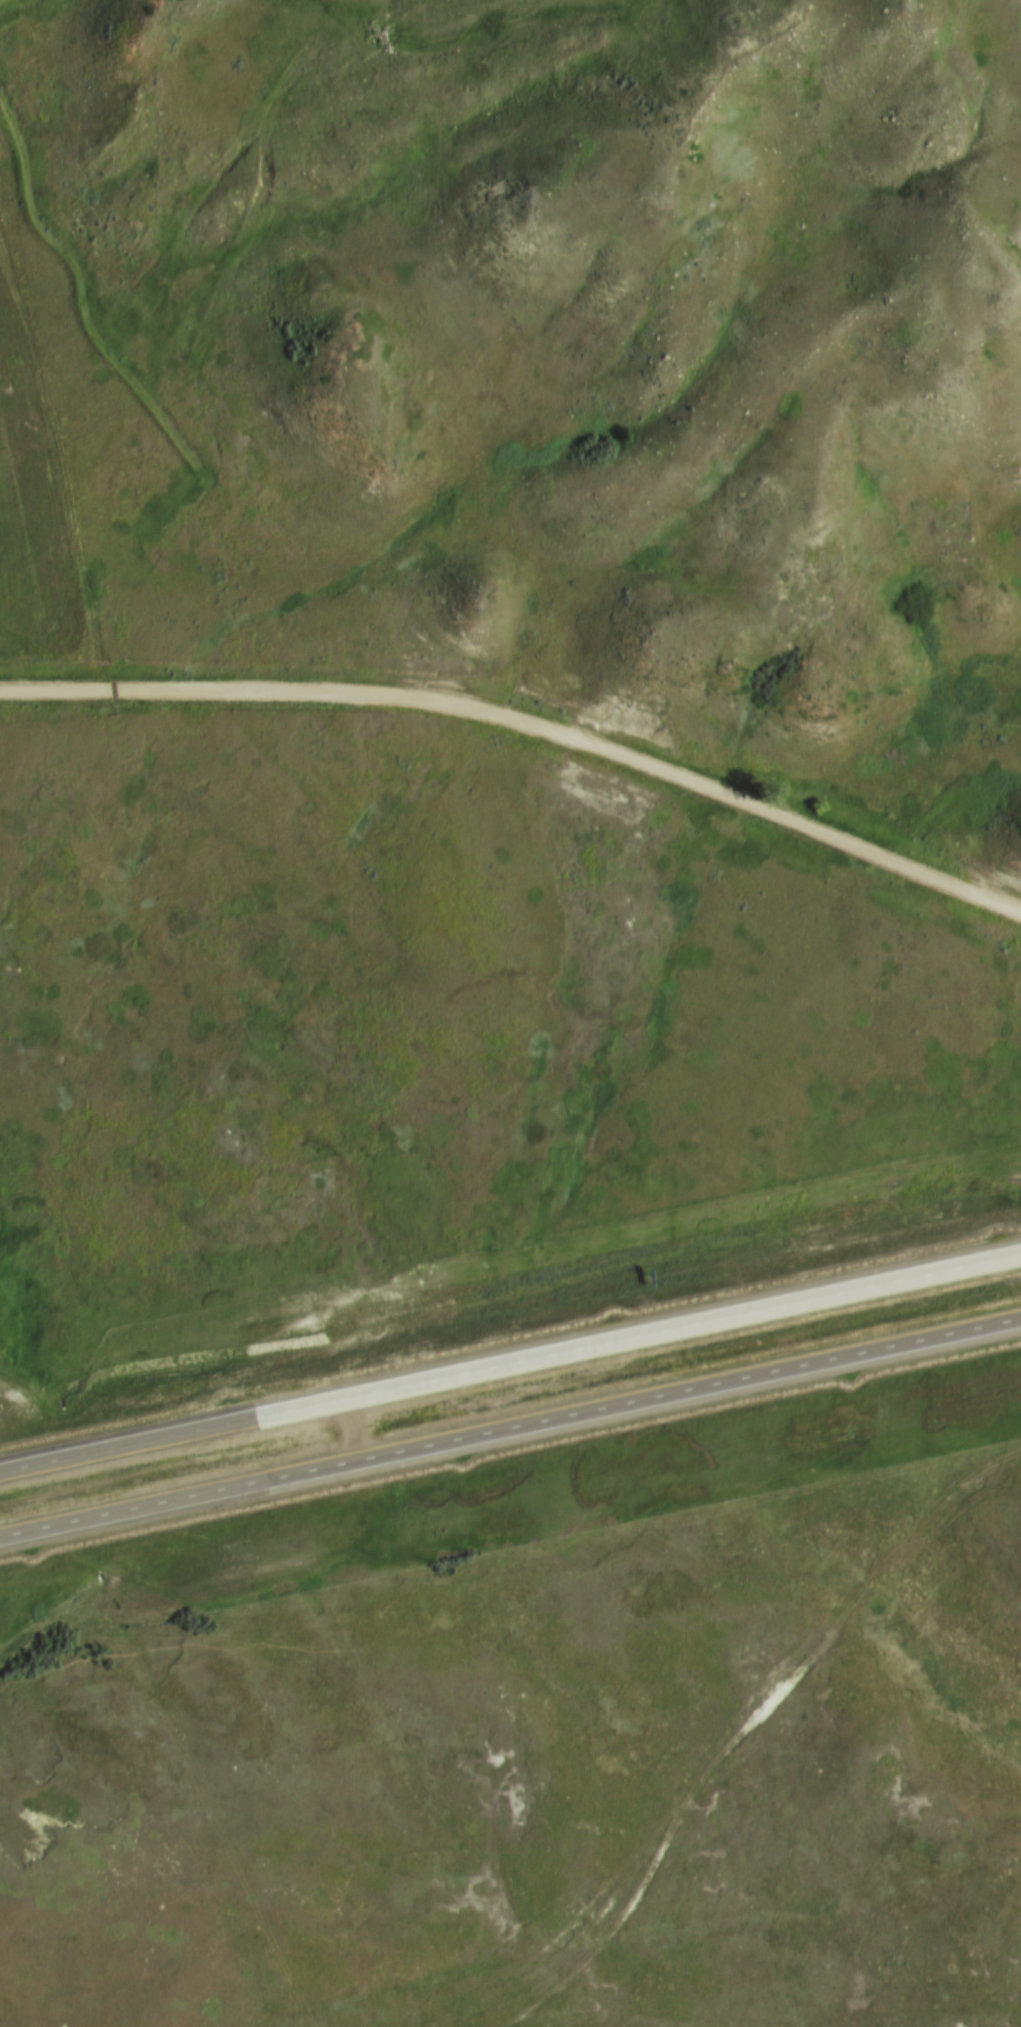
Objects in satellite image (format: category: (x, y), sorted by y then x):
road: (526, 726)
road: (510, 1371)
road: (510, 1434)
road: (750, 1727)

